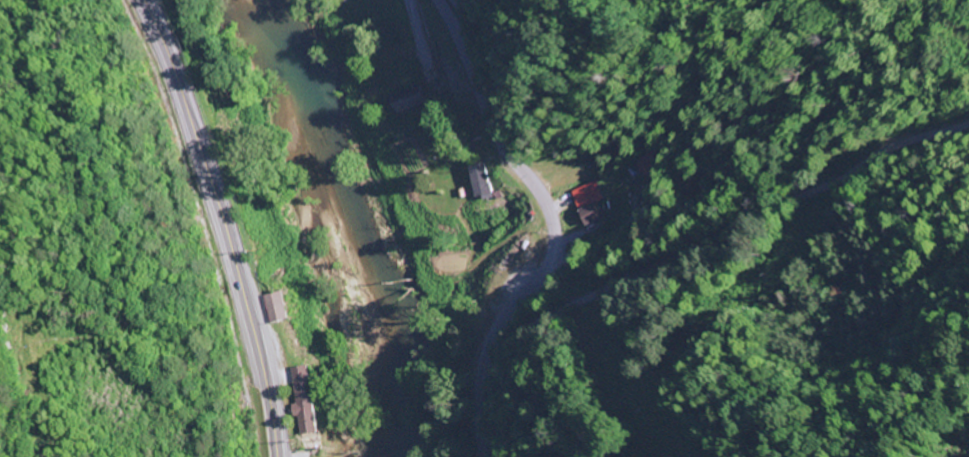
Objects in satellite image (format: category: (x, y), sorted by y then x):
park: (18, 26)
road: (415, 32)
building: (407, 98)
building: (477, 182)
building: (584, 196)
building: (587, 216)
road: (552, 223)
road: (215, 225)
river: (336, 227)
road: (688, 256)
building: (273, 306)
building: (301, 399)

